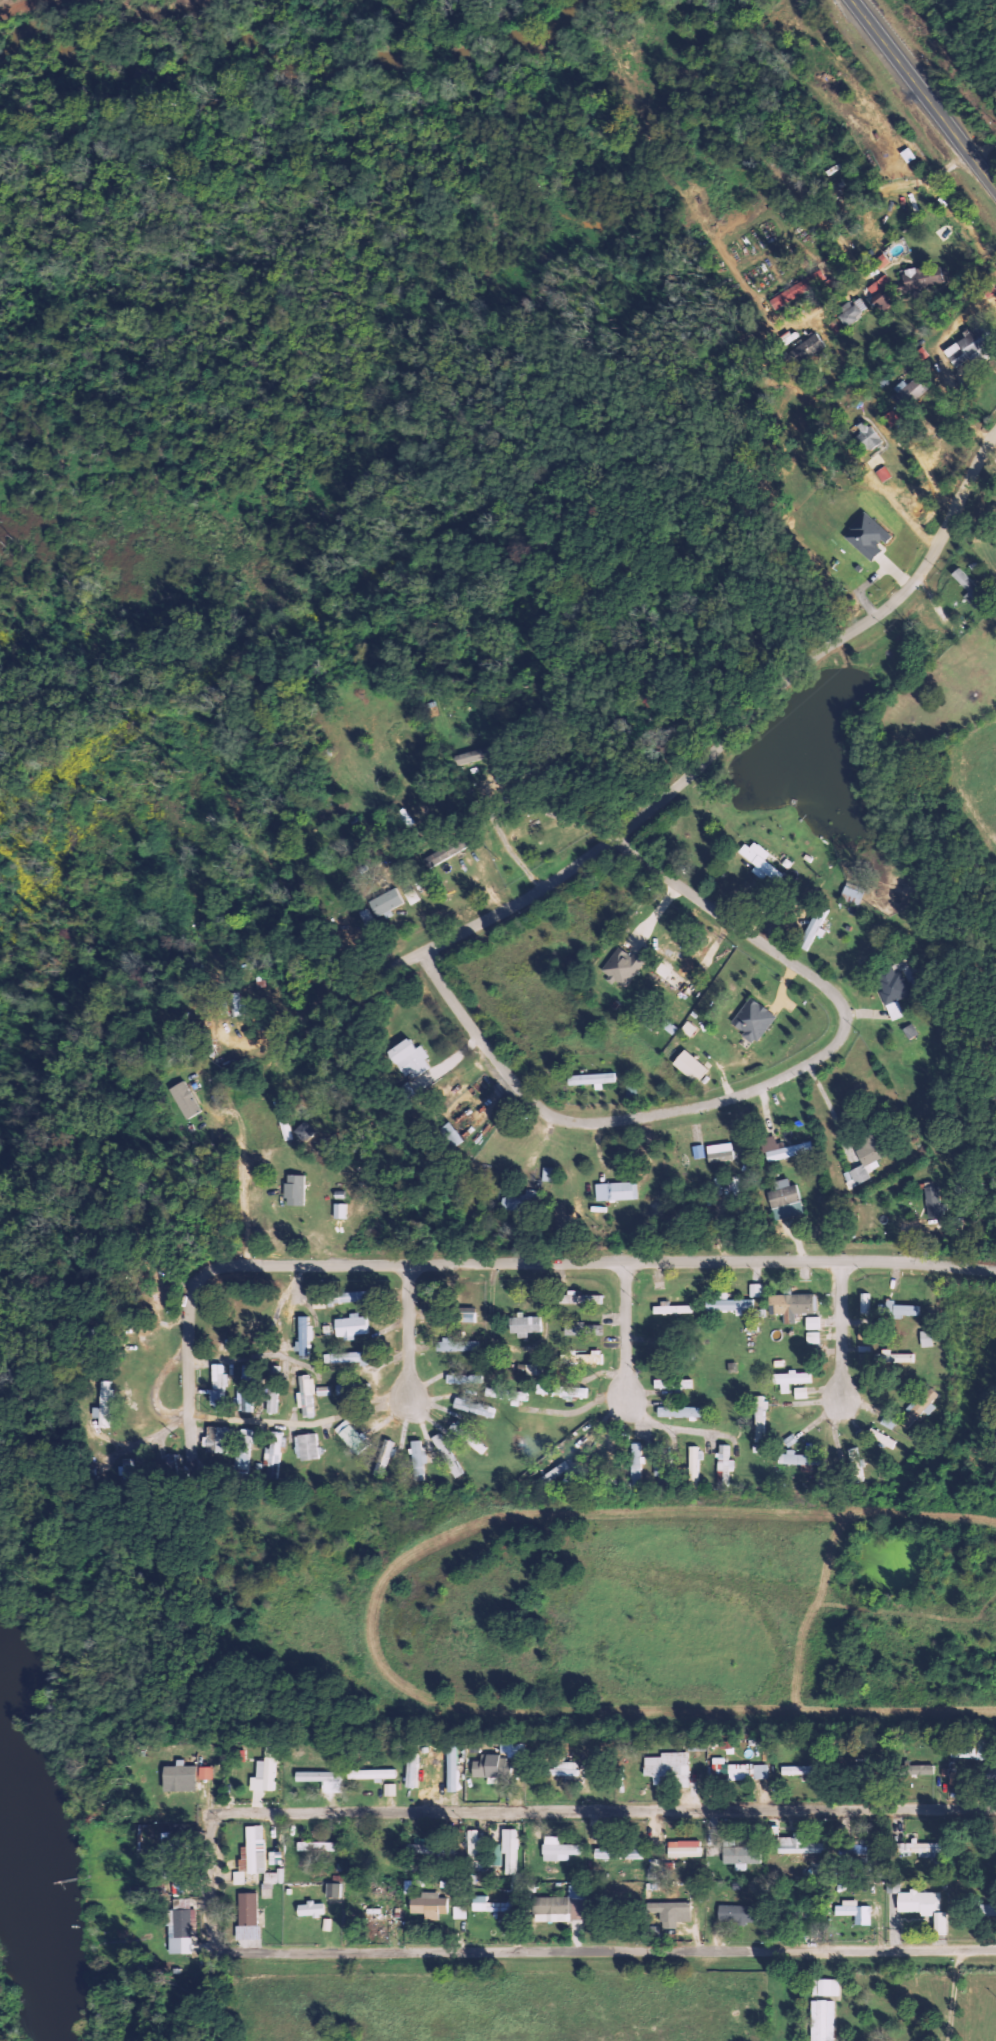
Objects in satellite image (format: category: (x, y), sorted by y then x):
road: (922, 94)
building: (882, 261)
building: (924, 277)
building: (798, 289)
building: (880, 291)
building: (851, 312)
building: (836, 326)
building: (804, 347)
building: (966, 347)
building: (865, 435)
building: (866, 535)
road: (741, 724)
building: (472, 756)
building: (446, 852)
building: (760, 861)
building: (851, 896)
building: (385, 903)
building: (814, 926)
building: (622, 967)
road: (387, 973)
building: (892, 991)
building: (236, 1005)
building: (752, 1020)
building: (909, 1032)
building: (410, 1058)
building: (690, 1066)
building: (592, 1079)
road: (758, 1089)
building: (184, 1099)
building: (450, 1135)
building: (782, 1149)
building: (699, 1152)
building: (721, 1152)
building: (864, 1162)
building: (548, 1174)
building: (295, 1190)
building: (618, 1191)
building: (785, 1200)
building: (522, 1201)
building: (932, 1201)
building: (340, 1211)
road: (602, 1261)
building: (756, 1290)
building: (346, 1297)
building: (579, 1299)
building: (728, 1303)
building: (864, 1303)
building: (792, 1305)
building: (673, 1309)
building: (902, 1309)
building: (468, 1315)
building: (526, 1324)
building: (351, 1326)
building: (583, 1329)
building: (303, 1336)
road: (630, 1337)
road: (846, 1337)
building: (925, 1339)
road: (414, 1340)
building: (457, 1345)
building: (346, 1357)
building: (583, 1357)
building: (896, 1357)
road: (195, 1365)
building: (532, 1370)
building: (275, 1372)
building: (465, 1379)
building: (790, 1379)
building: (673, 1383)
building: (219, 1385)
building: (324, 1391)
building: (569, 1391)
building: (801, 1393)
building: (508, 1394)
building: (306, 1396)
building: (244, 1401)
building: (271, 1401)
building: (106, 1405)
building: (474, 1407)
building: (919, 1408)
building: (682, 1412)
building: (760, 1418)
building: (467, 1436)
building: (352, 1438)
building: (882, 1438)
building: (217, 1440)
building: (307, 1446)
building: (275, 1449)
building: (245, 1450)
building: (448, 1455)
building: (384, 1458)
building: (799, 1459)
building: (418, 1460)
building: (724, 1460)
building: (694, 1463)
building: (637, 1464)
building: (552, 1474)
building: (962, 1752)
building: (666, 1764)
building: (493, 1767)
building: (452, 1768)
building: (564, 1768)
building: (412, 1769)
building: (921, 1769)
building: (268, 1770)
building: (794, 1770)
building: (747, 1771)
building: (205, 1773)
building: (373, 1774)
building: (319, 1776)
building: (179, 1777)
building: (391, 1789)
road: (608, 1814)
building: (473, 1844)
building: (318, 1846)
building: (797, 1846)
building: (556, 1848)
building: (684, 1848)
building: (921, 1848)
building: (859, 1849)
building: (254, 1851)
building: (510, 1851)
building: (618, 1853)
building: (740, 1853)
building: (497, 1854)
building: (274, 1877)
road: (222, 1881)
building: (333, 1889)
building: (429, 1904)
building: (490, 1904)
building: (924, 1906)
building: (560, 1907)
building: (851, 1908)
building: (311, 1909)
building: (987, 1910)
building: (460, 1912)
building: (671, 1912)
building: (735, 1913)
building: (247, 1916)
building: (327, 1924)
building: (179, 1926)
road: (607, 1952)
building: (825, 1987)
building: (821, 2020)

